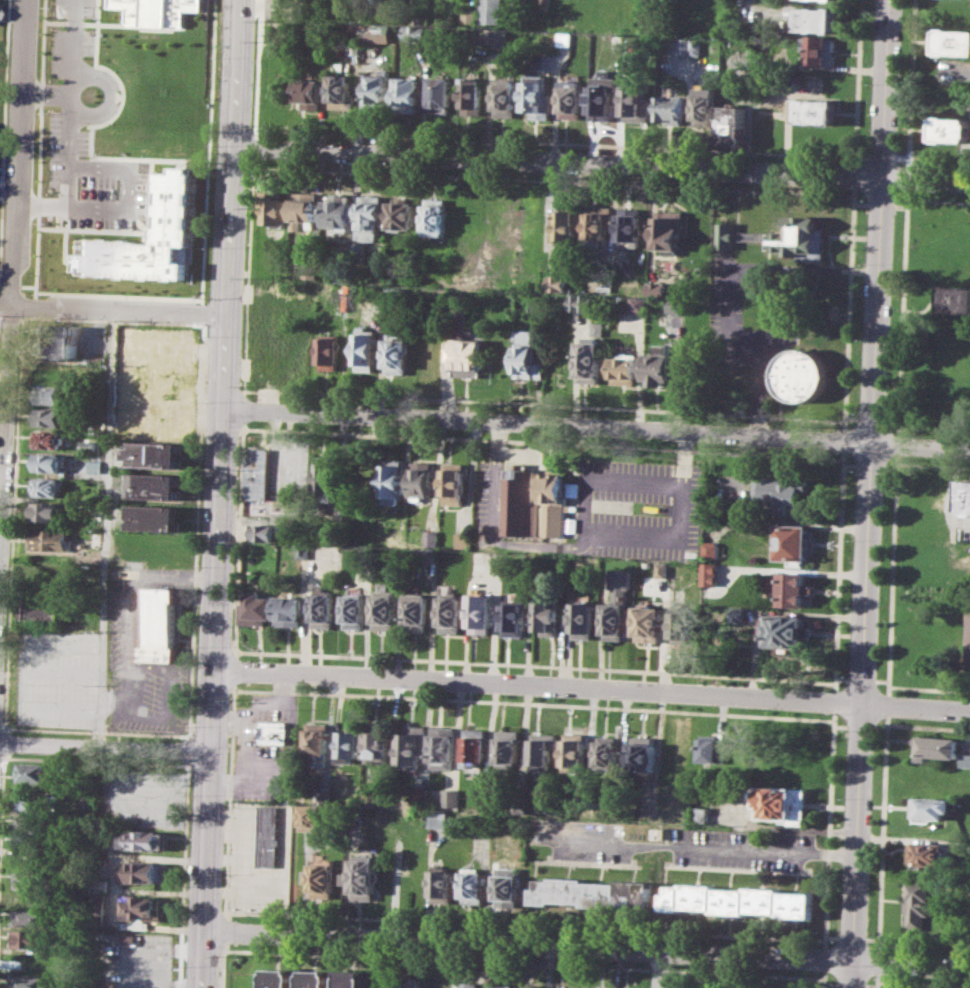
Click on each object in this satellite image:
building: (837, 0)
street lamp: (39, 7)
building: (492, 11)
building: (155, 12)
building: (954, 12)
building: (470, 15)
building: (817, 20)
road: (53, 21)
road: (72, 22)
road: (88, 23)
street lamp: (50, 28)
building: (413, 31)
building: (354, 32)
building: (377, 32)
building: (502, 37)
building: (564, 38)
building: (617, 41)
building: (953, 42)
road: (74, 44)
building: (676, 46)
building: (696, 46)
building: (818, 50)
street lamp: (216, 58)
street lamp: (113, 70)
street lamp: (48, 80)
road: (856, 83)
road: (910, 85)
road: (46, 88)
building: (377, 88)
road: (3, 90)
building: (440, 91)
building: (340, 92)
building: (311, 93)
building: (407, 93)
road: (73, 95)
building: (472, 95)
road: (109, 96)
building: (571, 96)
building: (506, 97)
building: (537, 99)
road: (45, 101)
building: (636, 103)
building: (602, 104)
building: (705, 104)
street lamp: (47, 109)
building: (670, 110)
building: (816, 111)
street lamp: (35, 112)
street lamp: (111, 122)
building: (733, 125)
building: (951, 128)
building: (766, 129)
road: (253, 131)
road: (489, 139)
road: (252, 148)
street lamp: (212, 149)
street lamp: (45, 152)
street lamp: (94, 153)
street lamp: (141, 154)
road: (861, 155)
road: (881, 156)
road: (117, 157)
road: (901, 157)
road: (939, 162)
road: (602, 163)
road: (853, 176)
road: (550, 180)
road: (907, 180)
road: (938, 199)
road: (859, 203)
road: (879, 204)
building: (176, 205)
building: (304, 206)
road: (899, 206)
road: (40, 207)
road: (92, 208)
building: (276, 208)
building: (338, 212)
building: (402, 213)
building: (434, 216)
building: (371, 218)
street lamp: (29, 223)
building: (568, 223)
building: (598, 224)
building: (629, 226)
building: (669, 230)
building: (726, 235)
building: (801, 240)
street lamp: (210, 247)
building: (359, 251)
road: (10, 279)
building: (557, 282)
building: (656, 287)
street lamp: (27, 293)
road: (120, 295)
building: (955, 299)
road: (202, 301)
building: (580, 302)
building: (538, 303)
building: (638, 304)
building: (679, 307)
road: (848, 308)
road: (113, 310)
road: (901, 311)
road: (202, 313)
street lamp: (83, 319)
road: (22, 320)
parking lot: (740, 324)
street lamp: (189, 326)
road: (203, 326)
street lamp: (158, 327)
street lamp: (206, 335)
road: (227, 335)
building: (37, 340)
building: (66, 341)
road: (756, 346)
building: (366, 351)
building: (329, 353)
building: (396, 353)
building: (592, 353)
building: (526, 355)
building: (468, 358)
building: (430, 359)
building: (660, 366)
building: (626, 369)
building: (801, 374)
building: (166, 382)
road: (244, 391)
building: (51, 394)
road: (432, 398)
street lamp: (204, 401)
road: (244, 408)
building: (49, 416)
road: (851, 417)
road: (870, 418)
road: (890, 419)
road: (933, 427)
road: (218, 428)
road: (597, 428)
building: (121, 431)
building: (48, 439)
road: (843, 440)
road: (540, 441)
road: (896, 444)
road: (528, 453)
building: (157, 454)
street lamp: (12, 462)
building: (49, 462)
road: (849, 464)
road: (870, 465)
road: (933, 465)
building: (95, 466)
road: (890, 467)
building: (258, 474)
road: (871, 480)
building: (394, 481)
building: (421, 481)
building: (329, 482)
building: (455, 483)
building: (158, 486)
building: (48, 487)
building: (781, 493)
street lamp: (201, 494)
building: (965, 497)
parking lot: (490, 500)
building: (536, 504)
parking lot: (684, 507)
building: (47, 511)
building: (156, 518)
road: (613, 527)
road: (105, 528)
building: (263, 532)
road: (494, 536)
building: (433, 538)
building: (95, 539)
road: (238, 539)
building: (464, 539)
building: (49, 540)
building: (795, 544)
building: (711, 549)
building: (429, 555)
building: (480, 557)
street lamp: (8, 565)
building: (663, 569)
road: (838, 570)
building: (710, 573)
road: (891, 574)
building: (790, 587)
building: (618, 604)
building: (323, 606)
building: (45, 608)
building: (256, 608)
building: (386, 609)
building: (288, 610)
building: (356, 610)
building: (417, 611)
road: (130, 612)
building: (453, 613)
building: (482, 613)
building: (739, 613)
building: (515, 616)
building: (547, 616)
building: (584, 620)
building: (649, 623)
building: (683, 624)
building: (161, 625)
building: (786, 631)
street lamp: (196, 645)
building: (969, 651)
parking lot: (140, 662)
road: (533, 666)
road: (233, 669)
parking lot: (57, 678)
road: (840, 678)
road: (860, 678)
road: (881, 679)
road: (537, 687)
road: (929, 689)
road: (834, 701)
road: (532, 705)
road: (887, 705)
road: (915, 707)
road: (213, 709)
road: (839, 725)
road: (1, 726)
road: (3, 726)
road: (859, 726)
street lamp: (192, 727)
road: (928, 727)
road: (879, 728)
road: (8, 729)
building: (272, 730)
road: (188, 736)
road: (5, 744)
building: (317, 744)
building: (350, 744)
building: (380, 746)
building: (413, 746)
building: (509, 746)
road: (105, 747)
building: (444, 747)
building: (476, 747)
building: (936, 747)
building: (544, 749)
road: (187, 750)
building: (712, 750)
building: (574, 751)
building: (607, 752)
street lamp: (18, 753)
road: (2, 756)
building: (641, 756)
building: (965, 759)
road: (95, 760)
building: (33, 771)
street lamp: (190, 795)
building: (327, 796)
building: (420, 796)
road: (228, 797)
building: (452, 797)
building: (376, 798)
building: (488, 801)
building: (31, 803)
building: (781, 803)
building: (930, 807)
road: (2, 813)
building: (702, 814)
building: (309, 818)
building: (440, 819)
building: (31, 822)
road: (828, 830)
road: (882, 833)
building: (268, 836)
building: (146, 840)
building: (30, 841)
parking lot: (587, 841)
road: (698, 847)
parking lot: (746, 850)
building: (928, 855)
road: (206, 868)
building: (143, 871)
road: (182, 875)
building: (364, 877)
building: (321, 879)
building: (30, 880)
building: (443, 885)
building: (475, 885)
building: (508, 887)
building: (593, 893)
building: (739, 900)
building: (917, 904)
building: (98, 905)
building: (142, 907)
building: (30, 917)
road: (521, 925)
road: (222, 931)
road: (831, 936)
building: (26, 938)
road: (851, 938)
road: (872, 938)
road: (527, 944)
road: (924, 945)
road: (222, 947)
road: (824, 959)
parking lot: (134, 961)
road: (383, 962)
road: (503, 962)
road: (878, 962)
road: (909, 964)
street lamp: (183, 965)
road: (849, 974)
building: (278, 978)
building: (353, 978)
building: (315, 979)
road: (824, 979)
road: (877, 980)
building: (30, 982)
building: (413, 982)
building: (468, 984)
road: (830, 984)
road: (923, 984)
building: (502, 985)
road: (850, 985)
building: (536, 986)
road: (870, 986)
building: (566, 987)
building: (602, 987)

